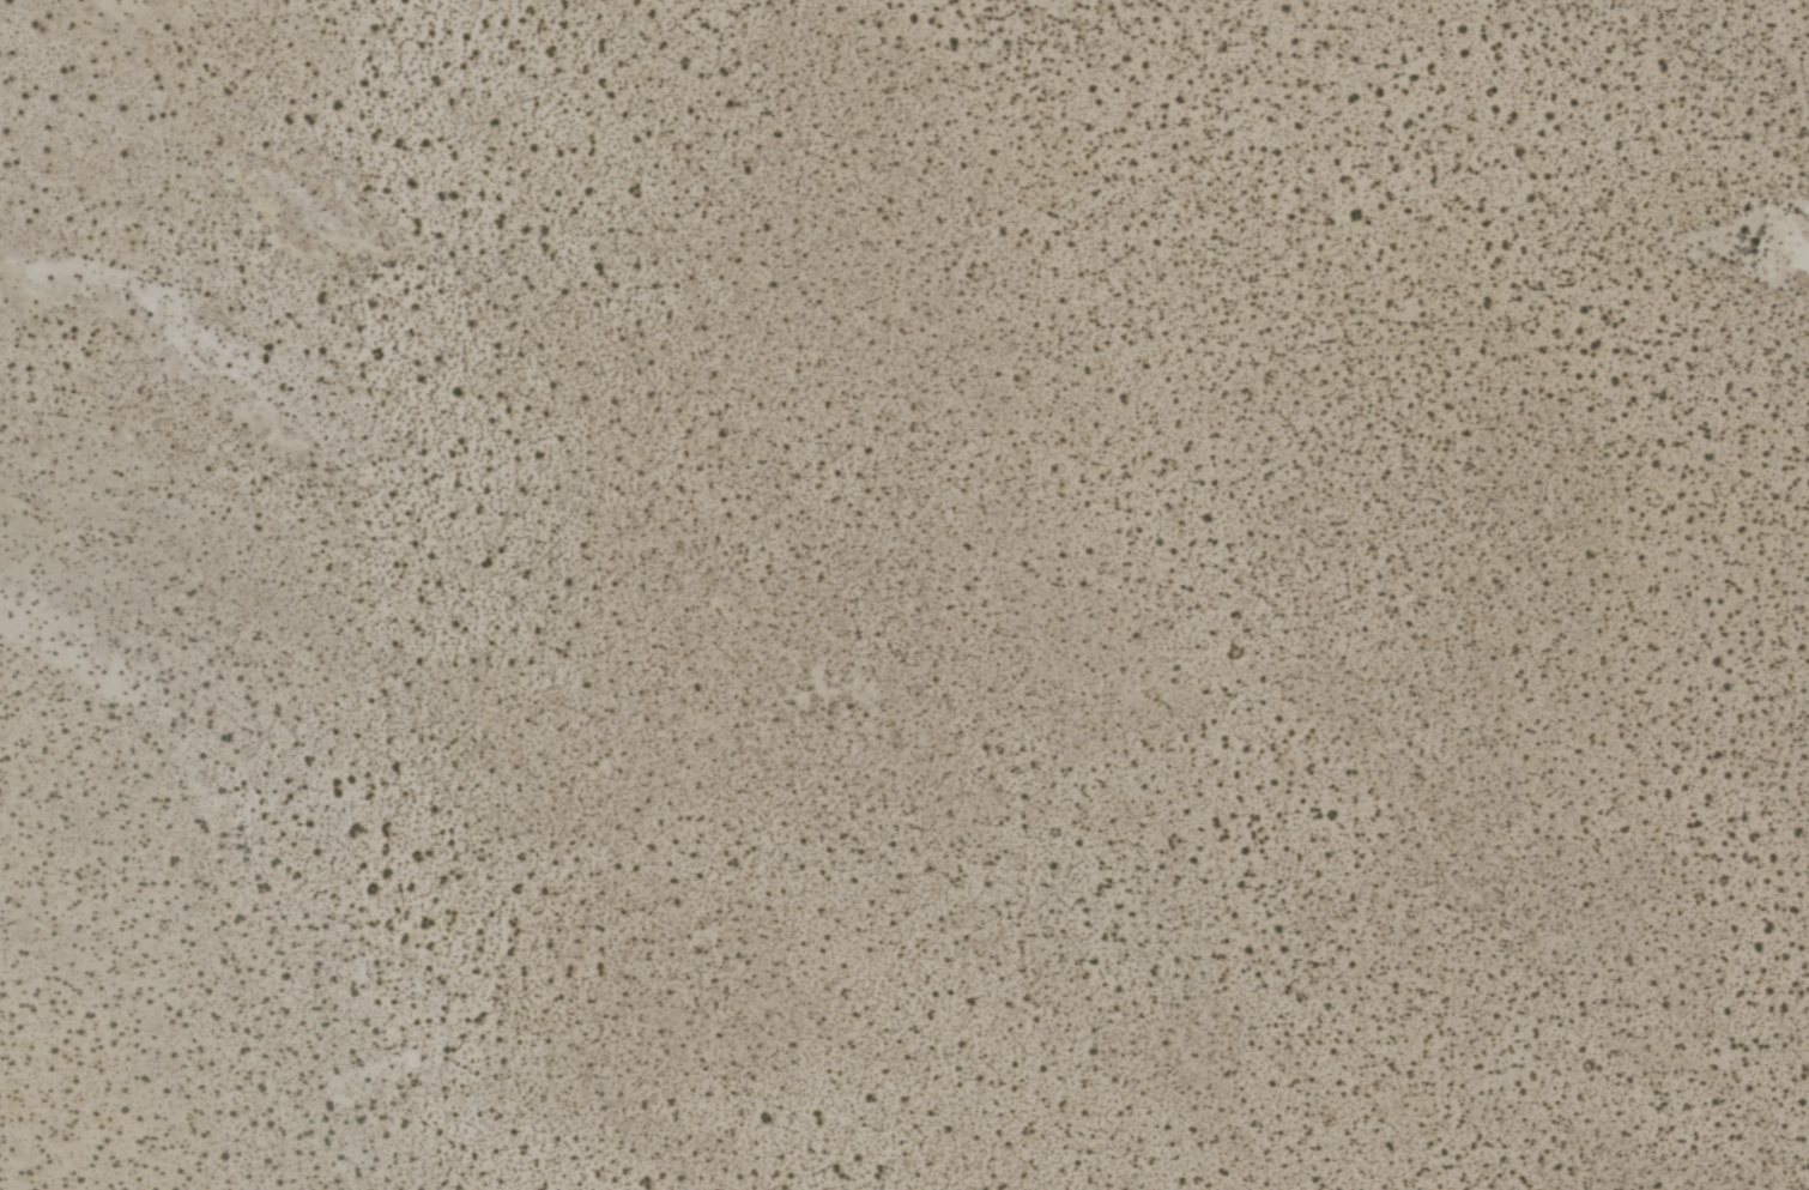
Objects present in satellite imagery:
road: (1795, 48)

